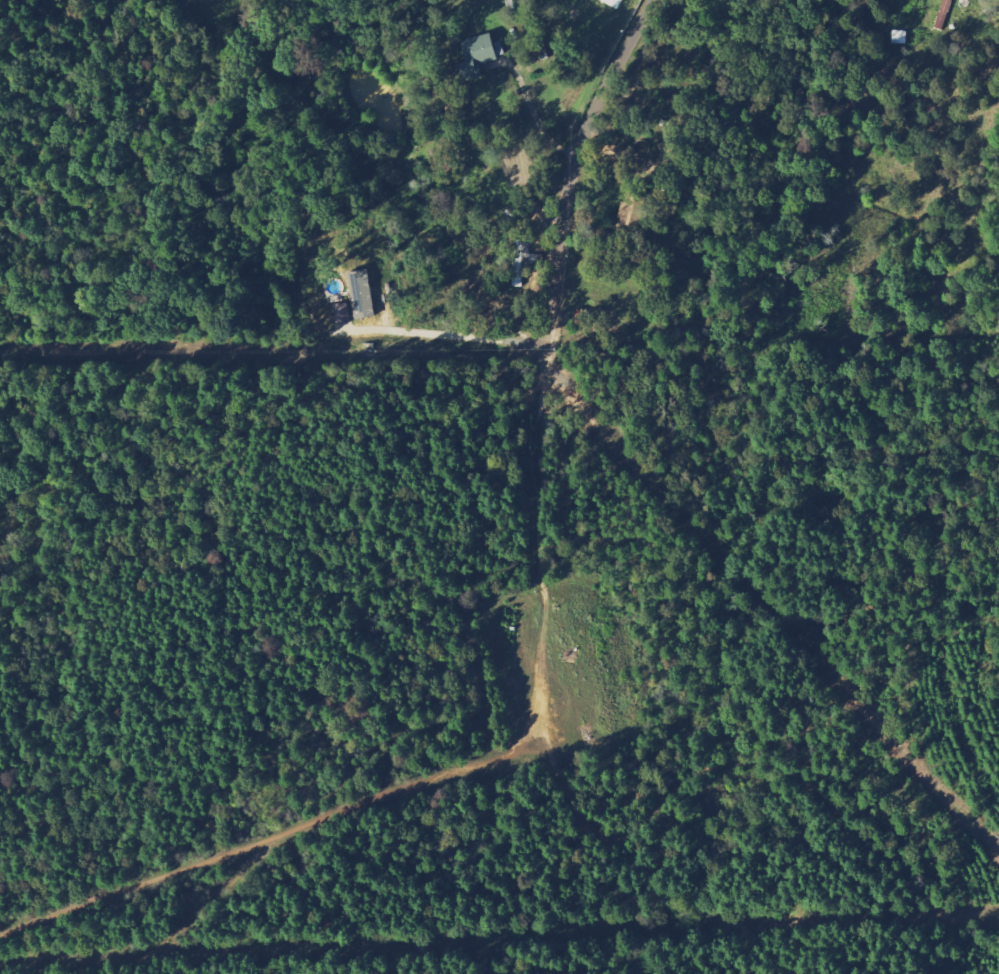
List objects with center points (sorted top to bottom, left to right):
building: (613, 3)
building: (478, 55)
road: (570, 175)
building: (360, 294)
building: (341, 313)

